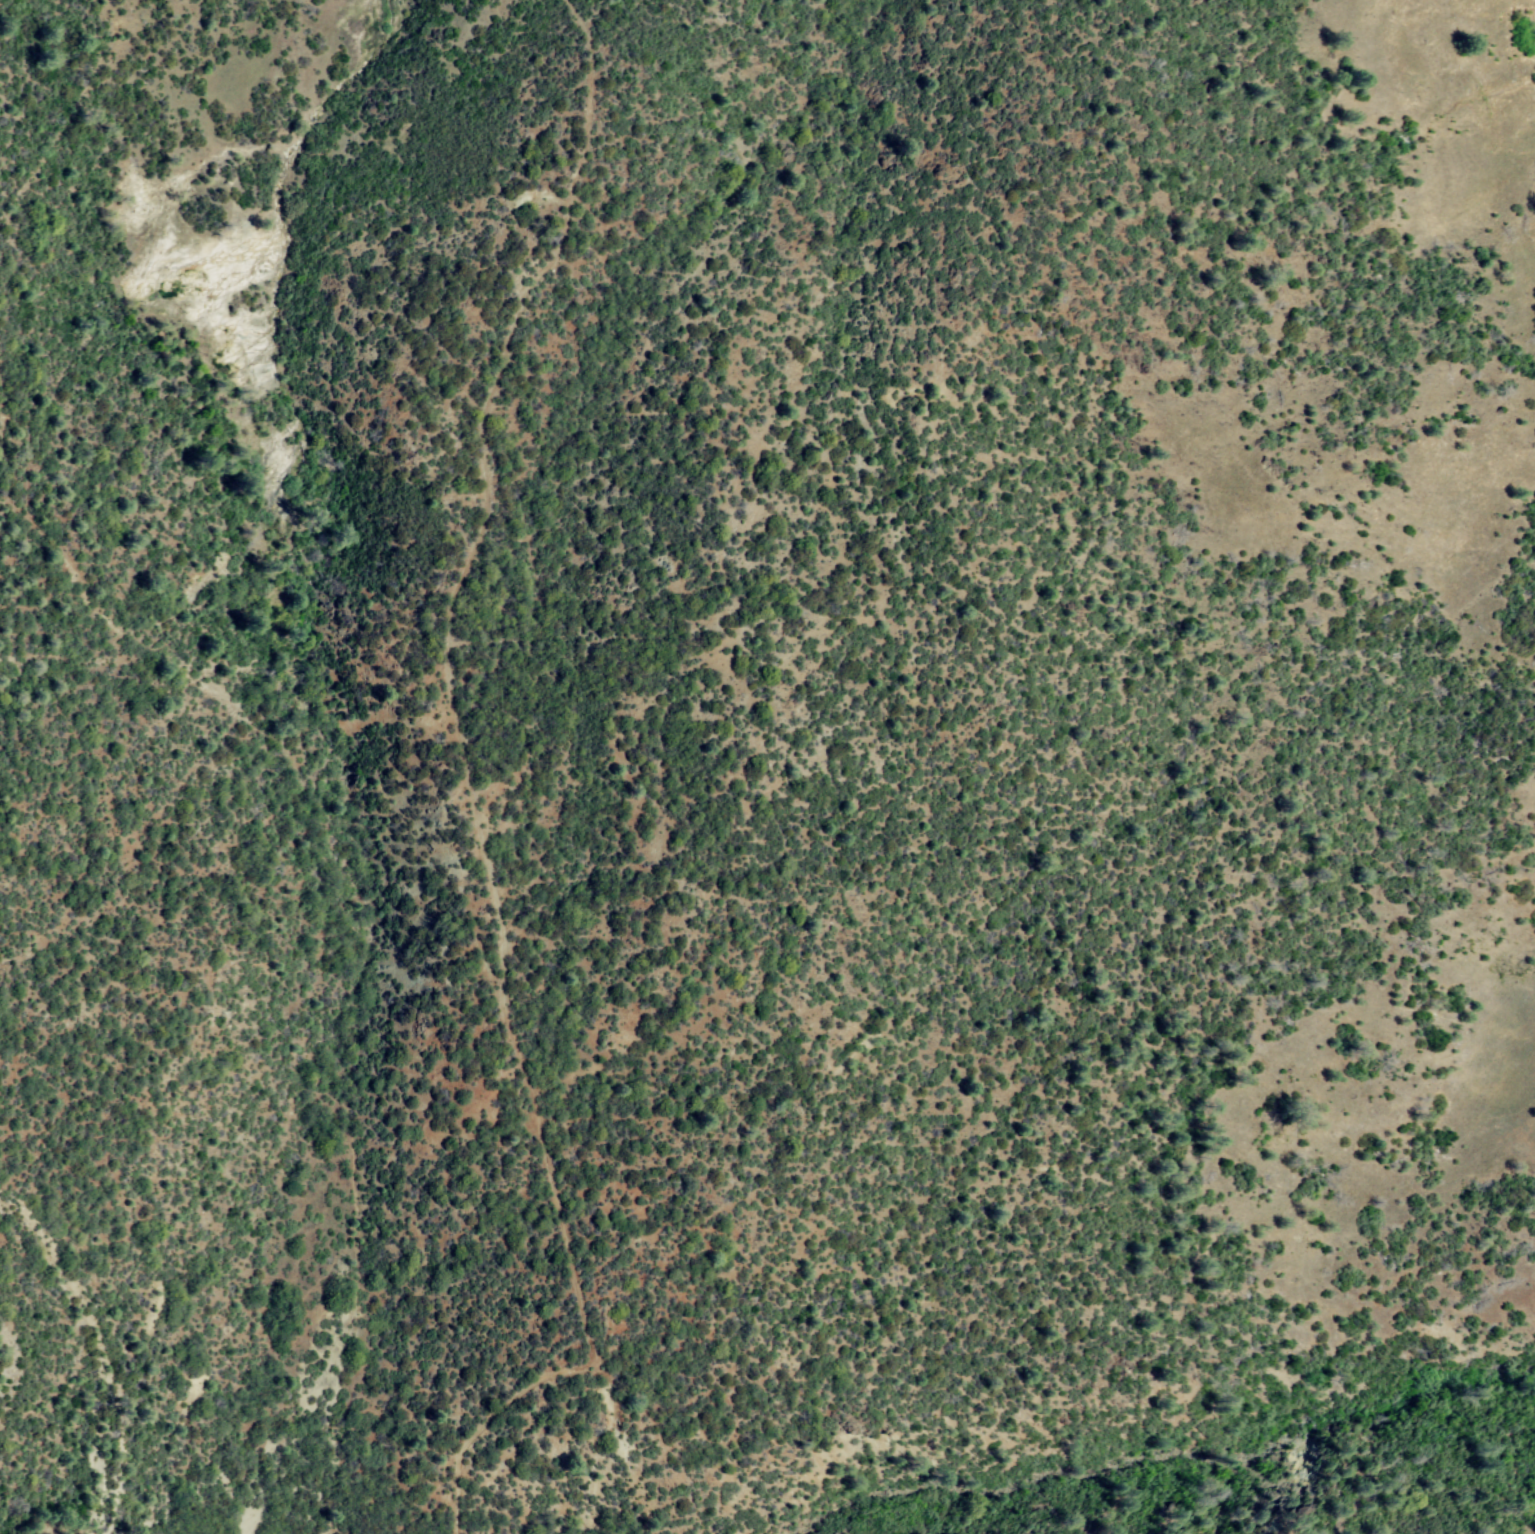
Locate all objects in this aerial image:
road: (97, 1358)

